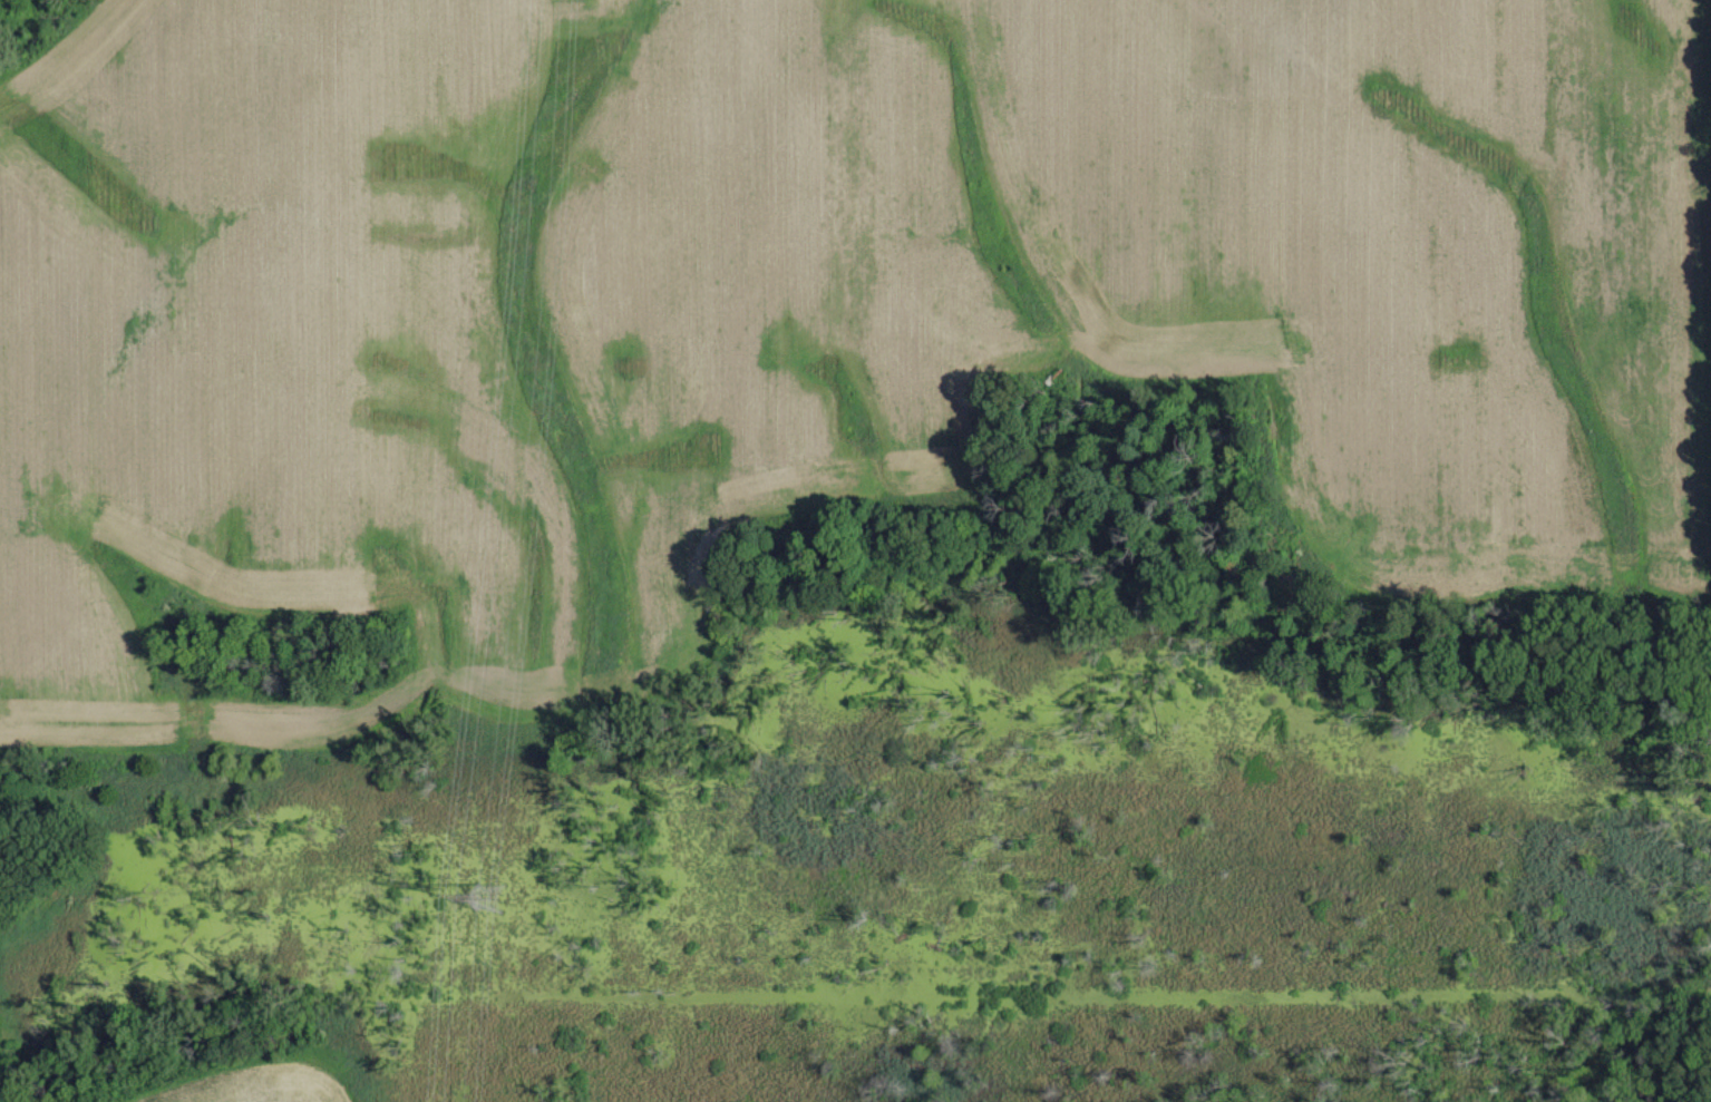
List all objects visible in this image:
power tower: (494, 897)

